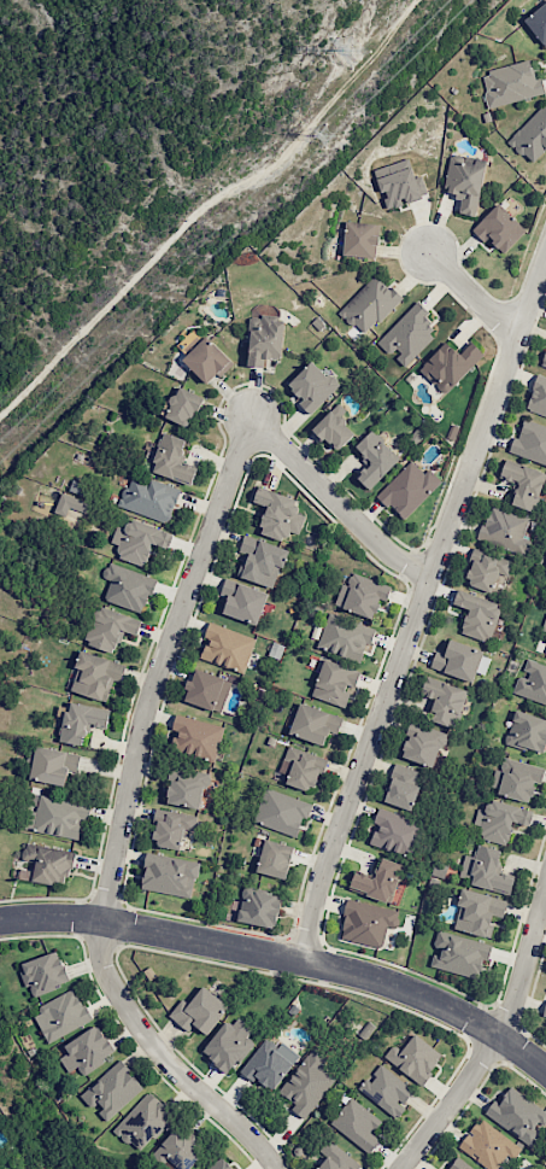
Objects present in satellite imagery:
building: (538, 23)
power tower: (330, 62)
building: (511, 83)
building: (532, 136)
power tower: (317, 140)
building: (465, 182)
building: (399, 183)
road: (206, 206)
building: (499, 228)
building: (360, 239)
road: (470, 293)
building: (369, 304)
building: (407, 334)
building: (264, 339)
building: (207, 360)
building: (544, 360)
building: (450, 364)
building: (313, 386)
building: (538, 397)
building: (183, 407)
building: (334, 427)
building: (530, 442)
building: (375, 458)
building: (172, 460)
building: (523, 484)
building: (409, 489)
building: (149, 498)
building: (69, 504)
building: (277, 514)
building: (505, 530)
building: (139, 540)
road: (201, 550)
building: (260, 561)
building: (485, 569)
building: (128, 588)
building: (362, 595)
building: (242, 601)
road: (419, 604)
building: (477, 614)
building: (544, 624)
building: (110, 629)
building: (345, 637)
building: (227, 647)
building: (545, 651)
building: (457, 660)
building: (95, 676)
building: (335, 683)
building: (532, 683)
building: (206, 690)
building: (444, 701)
building: (81, 721)
building: (315, 724)
building: (527, 731)
building: (195, 736)
building: (423, 744)
building: (53, 765)
building: (301, 767)
building: (516, 778)
building: (186, 787)
building: (403, 787)
building: (281, 812)
building: (60, 816)
building: (500, 820)
building: (171, 828)
building: (394, 832)
building: (275, 859)
building: (48, 863)
building: (487, 870)
building: (169, 875)
building: (377, 881)
building: (258, 907)
building: (477, 912)
building: (366, 923)
building: (459, 954)
road: (284, 957)
building: (43, 972)
building: (199, 1011)
building: (544, 1011)
building: (60, 1015)
road: (500, 1035)
building: (229, 1044)
building: (87, 1050)
building: (415, 1058)
road: (164, 1059)
building: (269, 1063)
building: (307, 1085)
building: (112, 1091)
building: (386, 1091)
building: (518, 1115)
building: (143, 1122)
building: (357, 1124)
building: (488, 1145)
building: (177, 1151)
building: (335, 1157)
building: (221, 1164)
building: (458, 1165)

